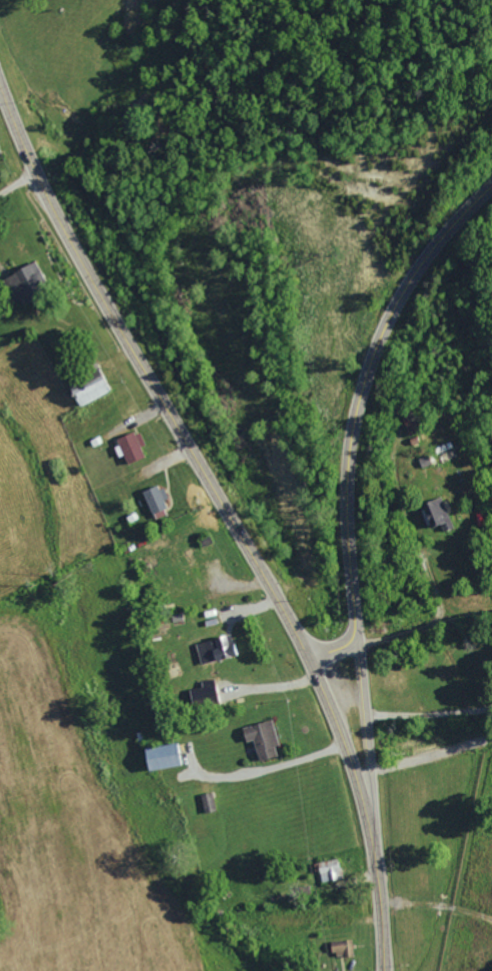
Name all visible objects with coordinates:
building: (25, 279)
building: (88, 390)
road: (356, 416)
building: (129, 447)
building: (155, 499)
road: (229, 514)
building: (439, 515)
building: (192, 571)
road: (437, 595)
road: (426, 631)
building: (217, 650)
building: (202, 694)
building: (261, 739)
building: (159, 758)
road: (371, 758)
building: (329, 871)
building: (345, 950)

